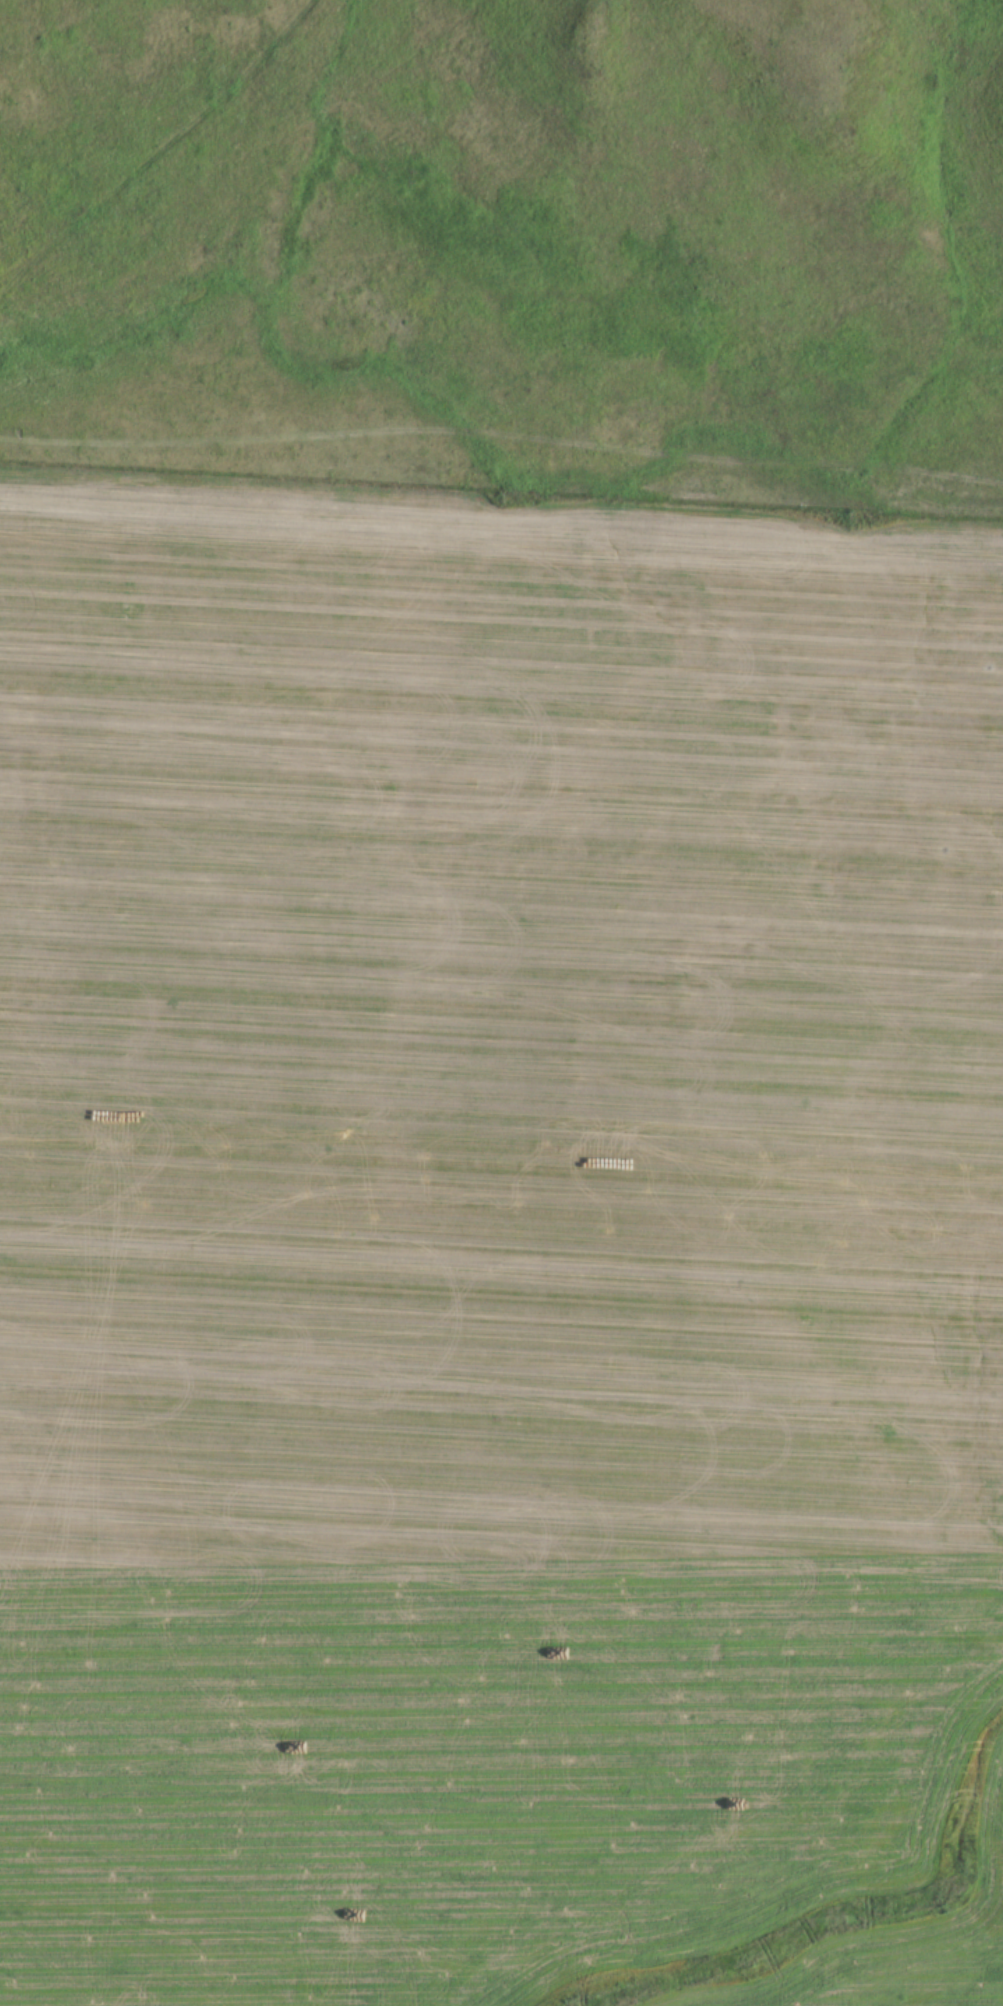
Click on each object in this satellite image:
building: (418, 1601)
building: (291, 1854)

